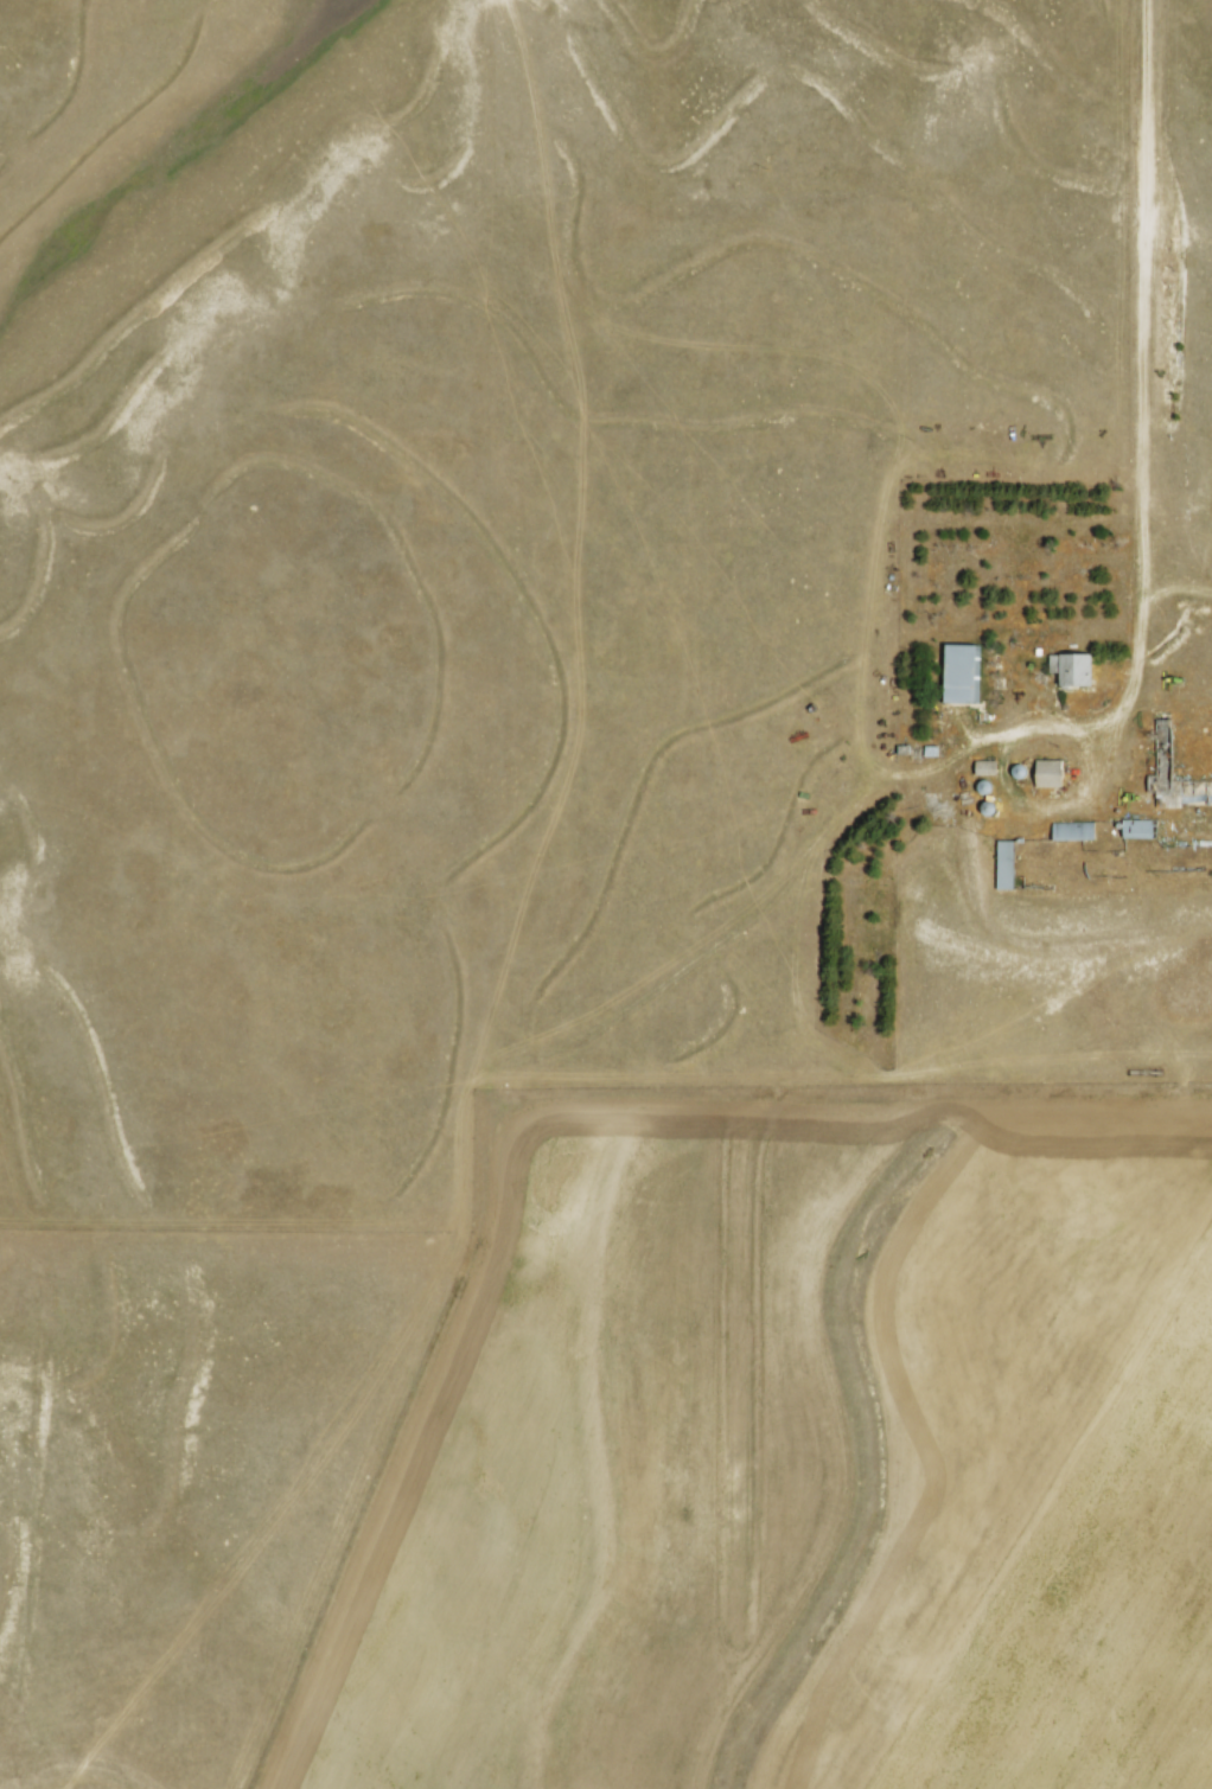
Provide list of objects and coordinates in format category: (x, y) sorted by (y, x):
road: (1148, 419)
building: (1070, 665)
building: (962, 669)
building: (983, 762)
building: (1159, 763)
building: (1015, 765)
building: (1047, 766)
building: (982, 781)
building: (983, 803)
road: (1053, 806)
building: (1136, 822)
building: (1072, 823)
building: (1006, 856)

